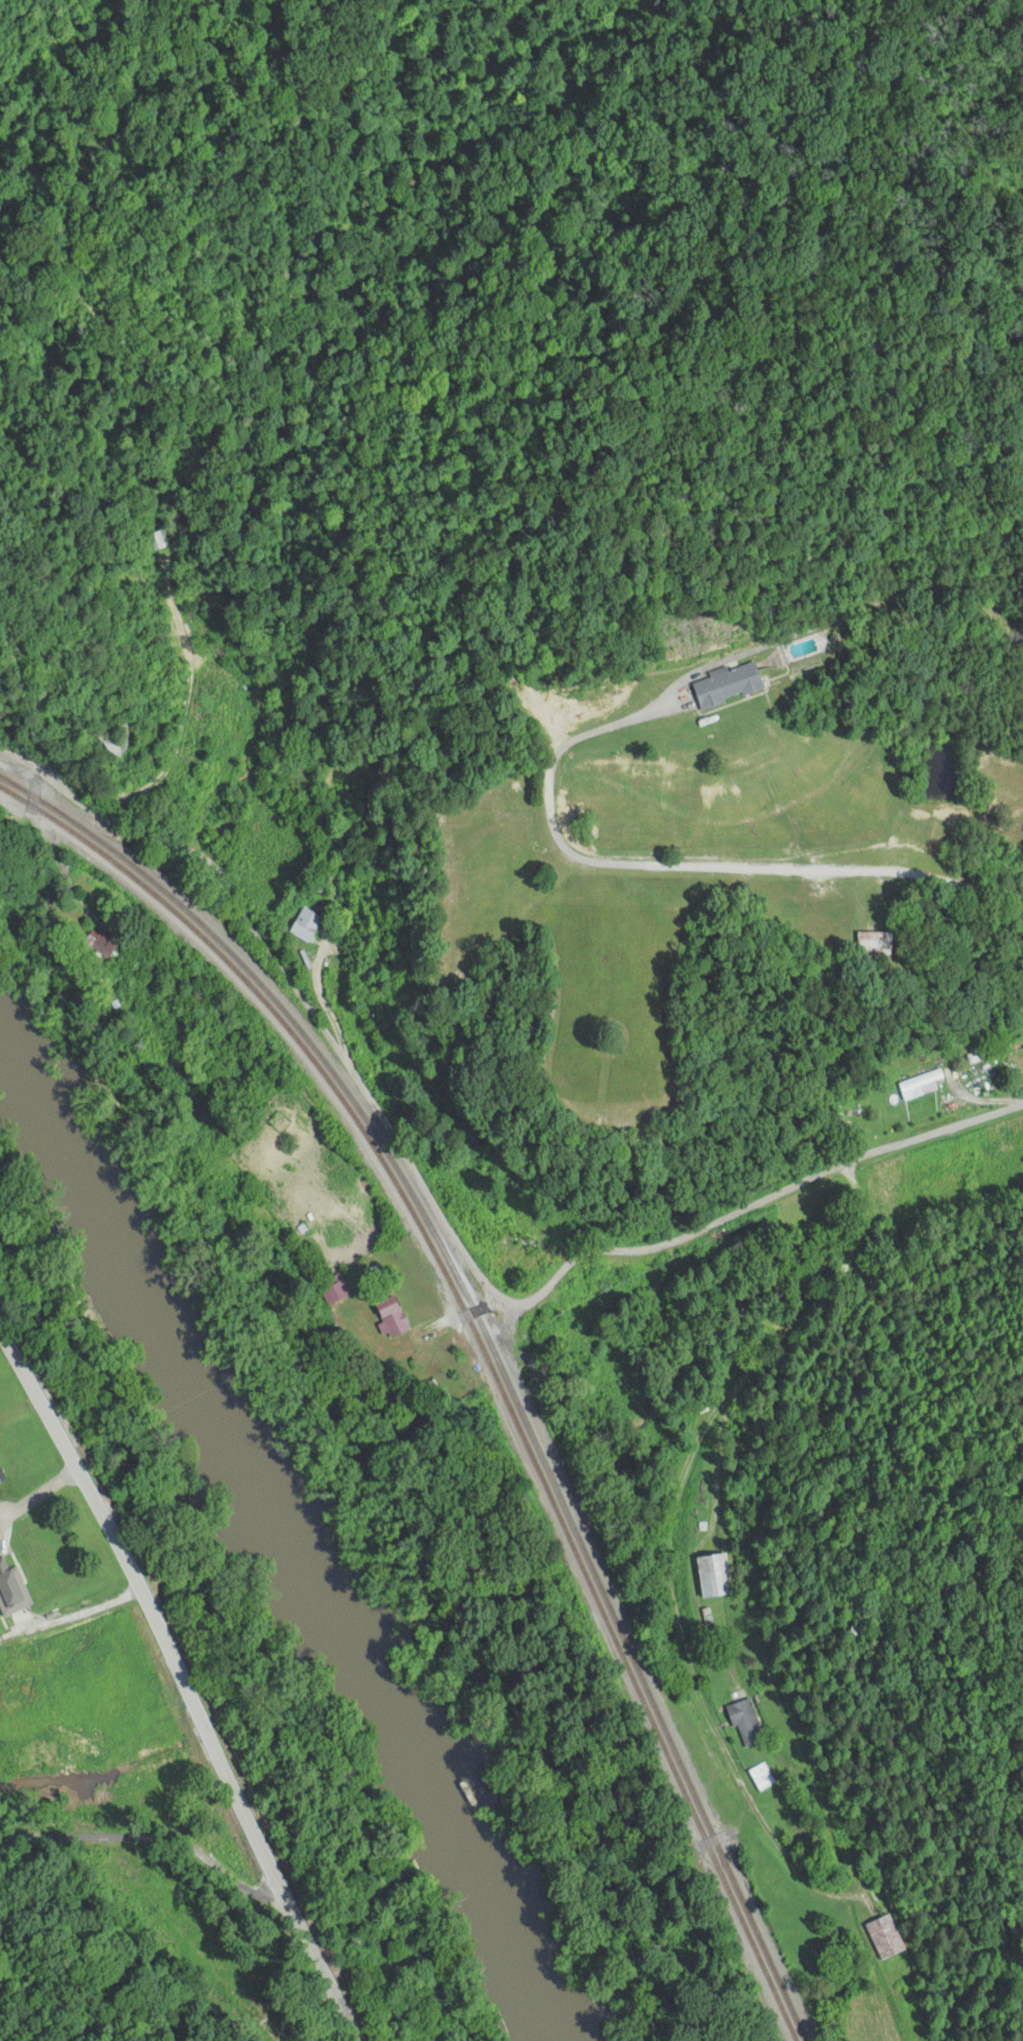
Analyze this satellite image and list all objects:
building: (727, 684)
road: (910, 908)
building: (304, 925)
building: (97, 944)
building: (868, 944)
building: (916, 1085)
river: (63, 1111)
road: (464, 1177)
building: (507, 1258)
building: (391, 1316)
railway: (484, 1353)
building: (713, 1576)
building: (6, 1586)
road: (666, 1620)
river: (352, 1624)
road: (185, 1684)
building: (745, 1721)
building: (762, 1777)
building: (783, 1902)
road: (148, 1911)
building: (885, 1936)

